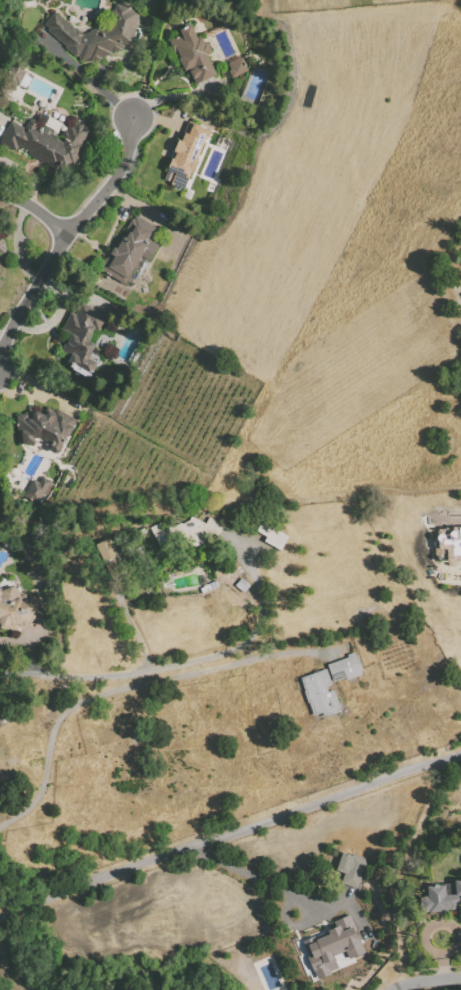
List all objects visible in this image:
road: (164, 2)
road: (238, 11)
road: (3, 22)
building: (95, 32)
building: (192, 54)
road: (147, 58)
building: (236, 67)
road: (90, 79)
park: (253, 84)
road: (171, 97)
road: (155, 119)
building: (45, 142)
building: (185, 155)
road: (28, 177)
road: (33, 213)
road: (68, 230)
building: (1, 246)
building: (129, 249)
road: (54, 315)
road: (2, 335)
building: (77, 339)
road: (35, 385)
building: (45, 429)
building: (36, 490)
building: (186, 533)
building: (270, 534)
building: (448, 545)
building: (108, 557)
building: (241, 584)
road: (260, 603)
building: (16, 609)
road: (133, 626)
building: (345, 667)
road: (118, 677)
road: (125, 687)
building: (318, 692)
road: (229, 834)
building: (343, 862)
road: (404, 865)
building: (354, 870)
road: (264, 881)
building: (442, 897)
road: (458, 933)
road: (456, 936)
building: (331, 946)
road: (442, 965)
road: (426, 980)

